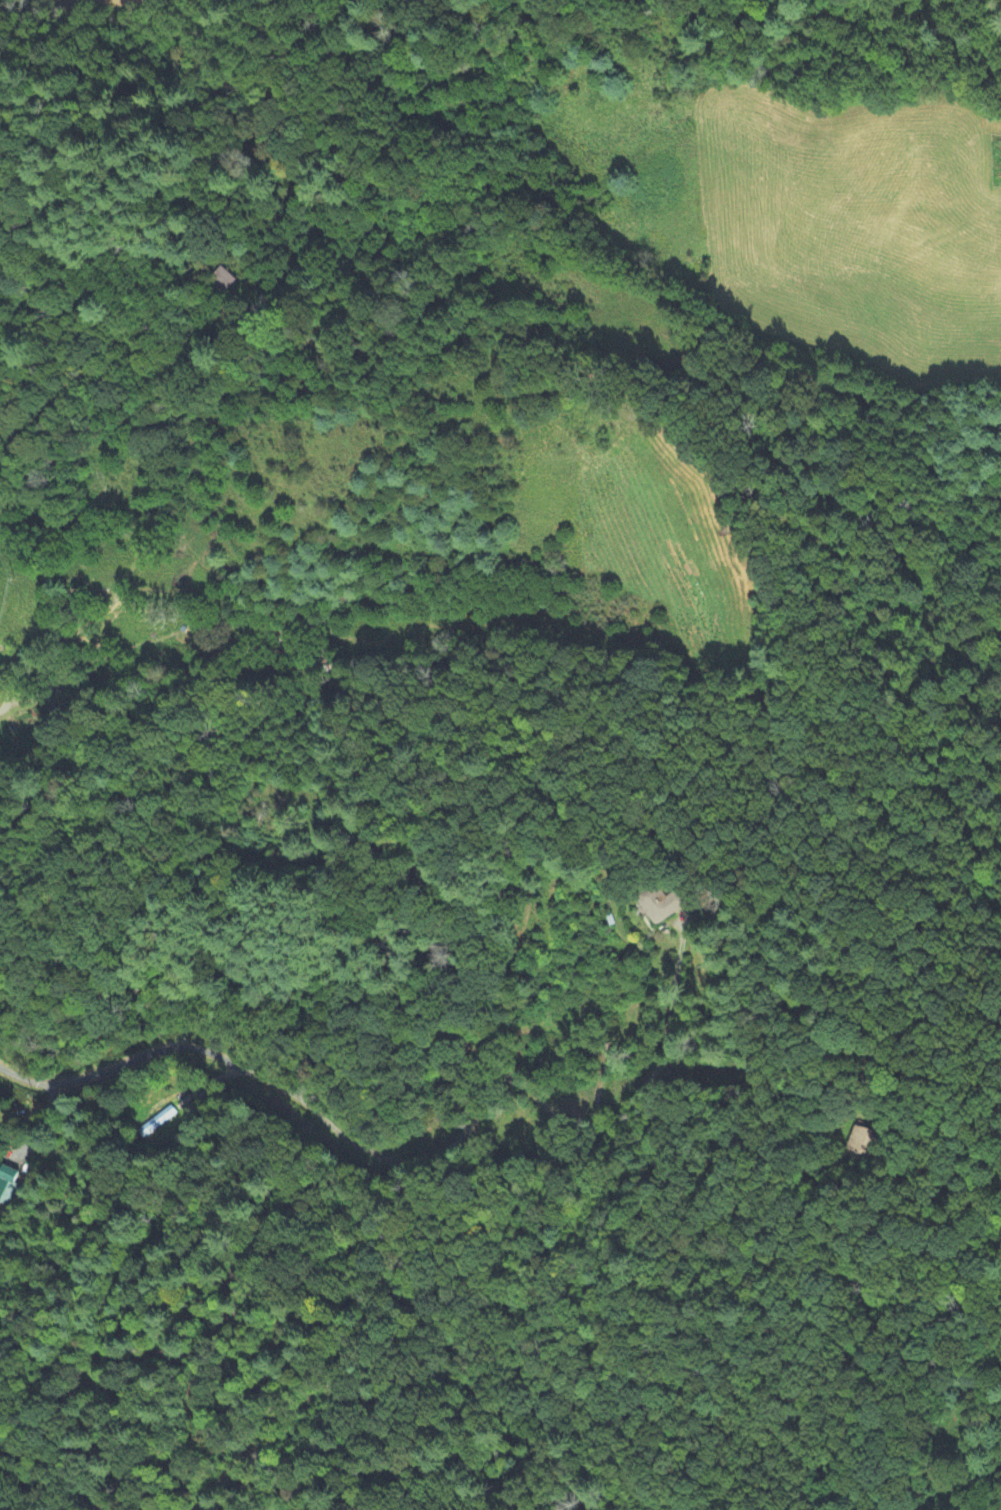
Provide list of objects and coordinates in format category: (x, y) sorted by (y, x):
building: (222, 281)
building: (661, 905)
building: (157, 1122)
building: (864, 1140)
road: (395, 1153)
building: (8, 1184)
road: (893, 1339)

